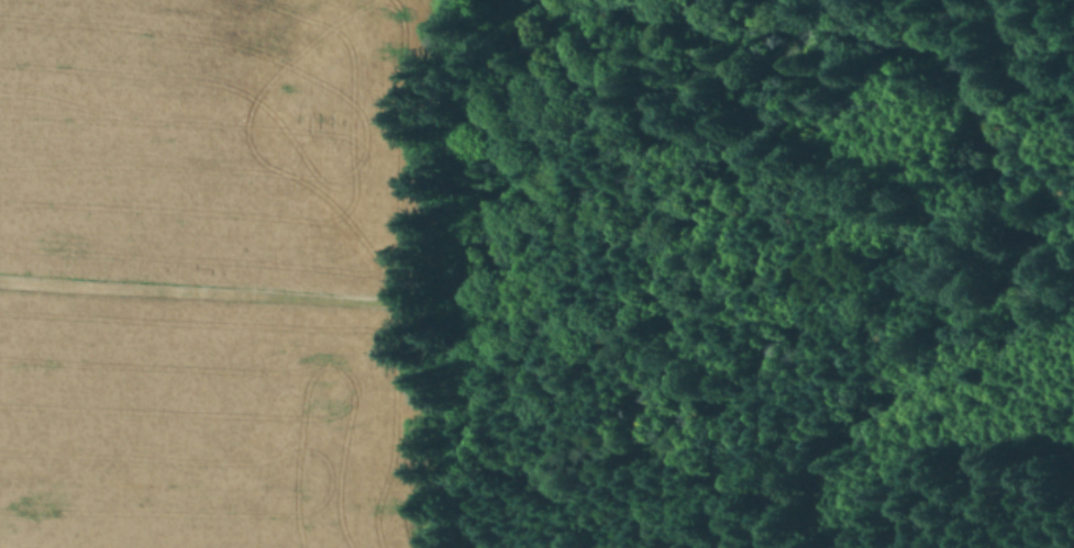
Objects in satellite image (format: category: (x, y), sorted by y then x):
crop: (224, 144)
crop: (212, 418)

